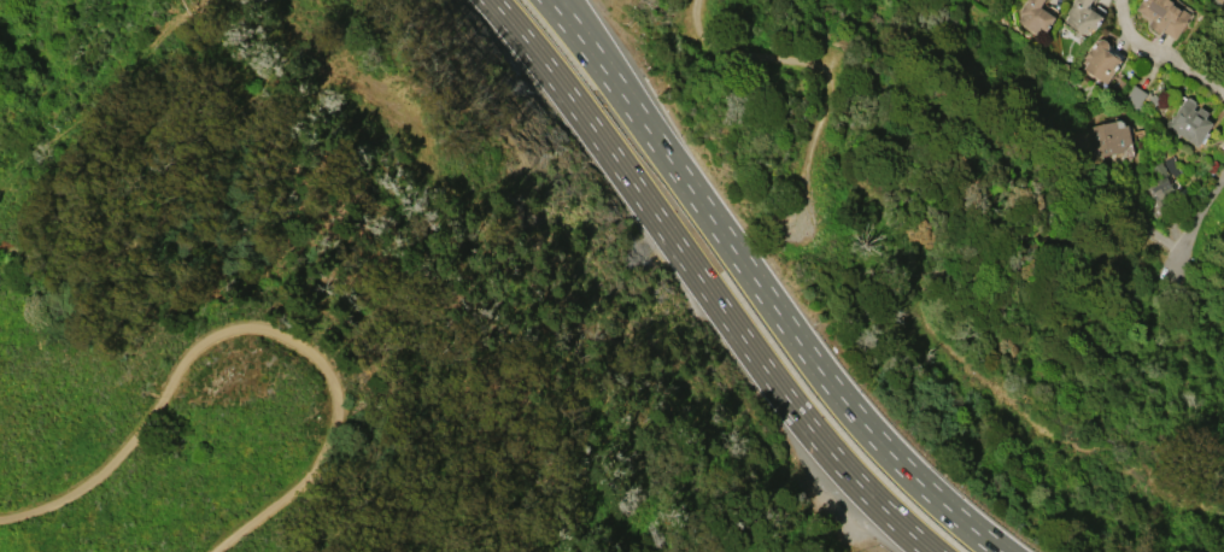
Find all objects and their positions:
building: (1083, 14)
building: (1035, 16)
building: (1162, 16)
road: (1160, 58)
building: (1101, 60)
road: (597, 61)
road: (610, 63)
building: (1134, 96)
building: (1189, 122)
building: (1108, 137)
building: (1156, 189)
road: (1203, 213)
building: (1223, 270)
road: (702, 282)
road: (247, 328)
road: (807, 353)

